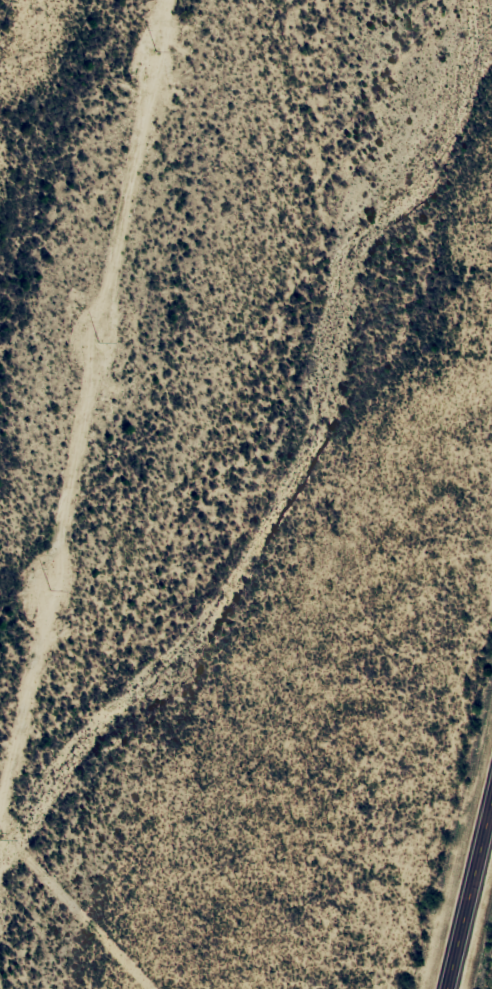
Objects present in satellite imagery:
road: (468, 891)

